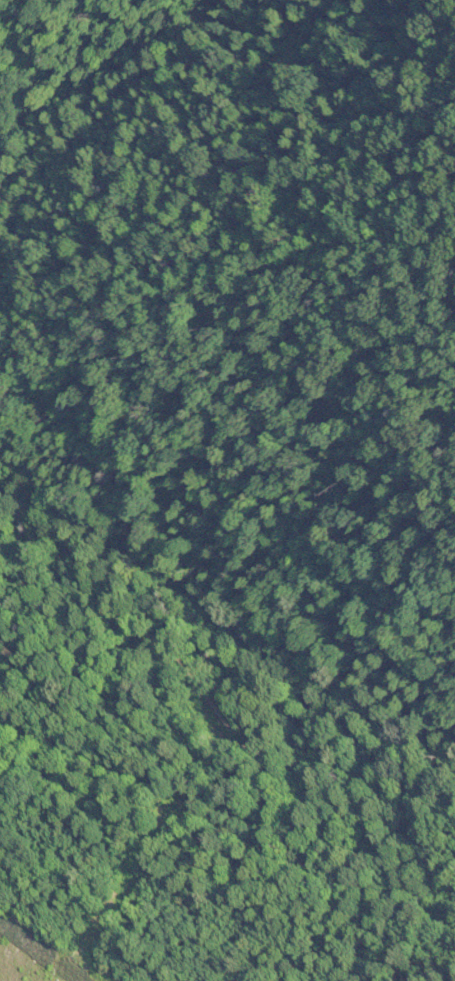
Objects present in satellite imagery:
quarry: (80, 944)

